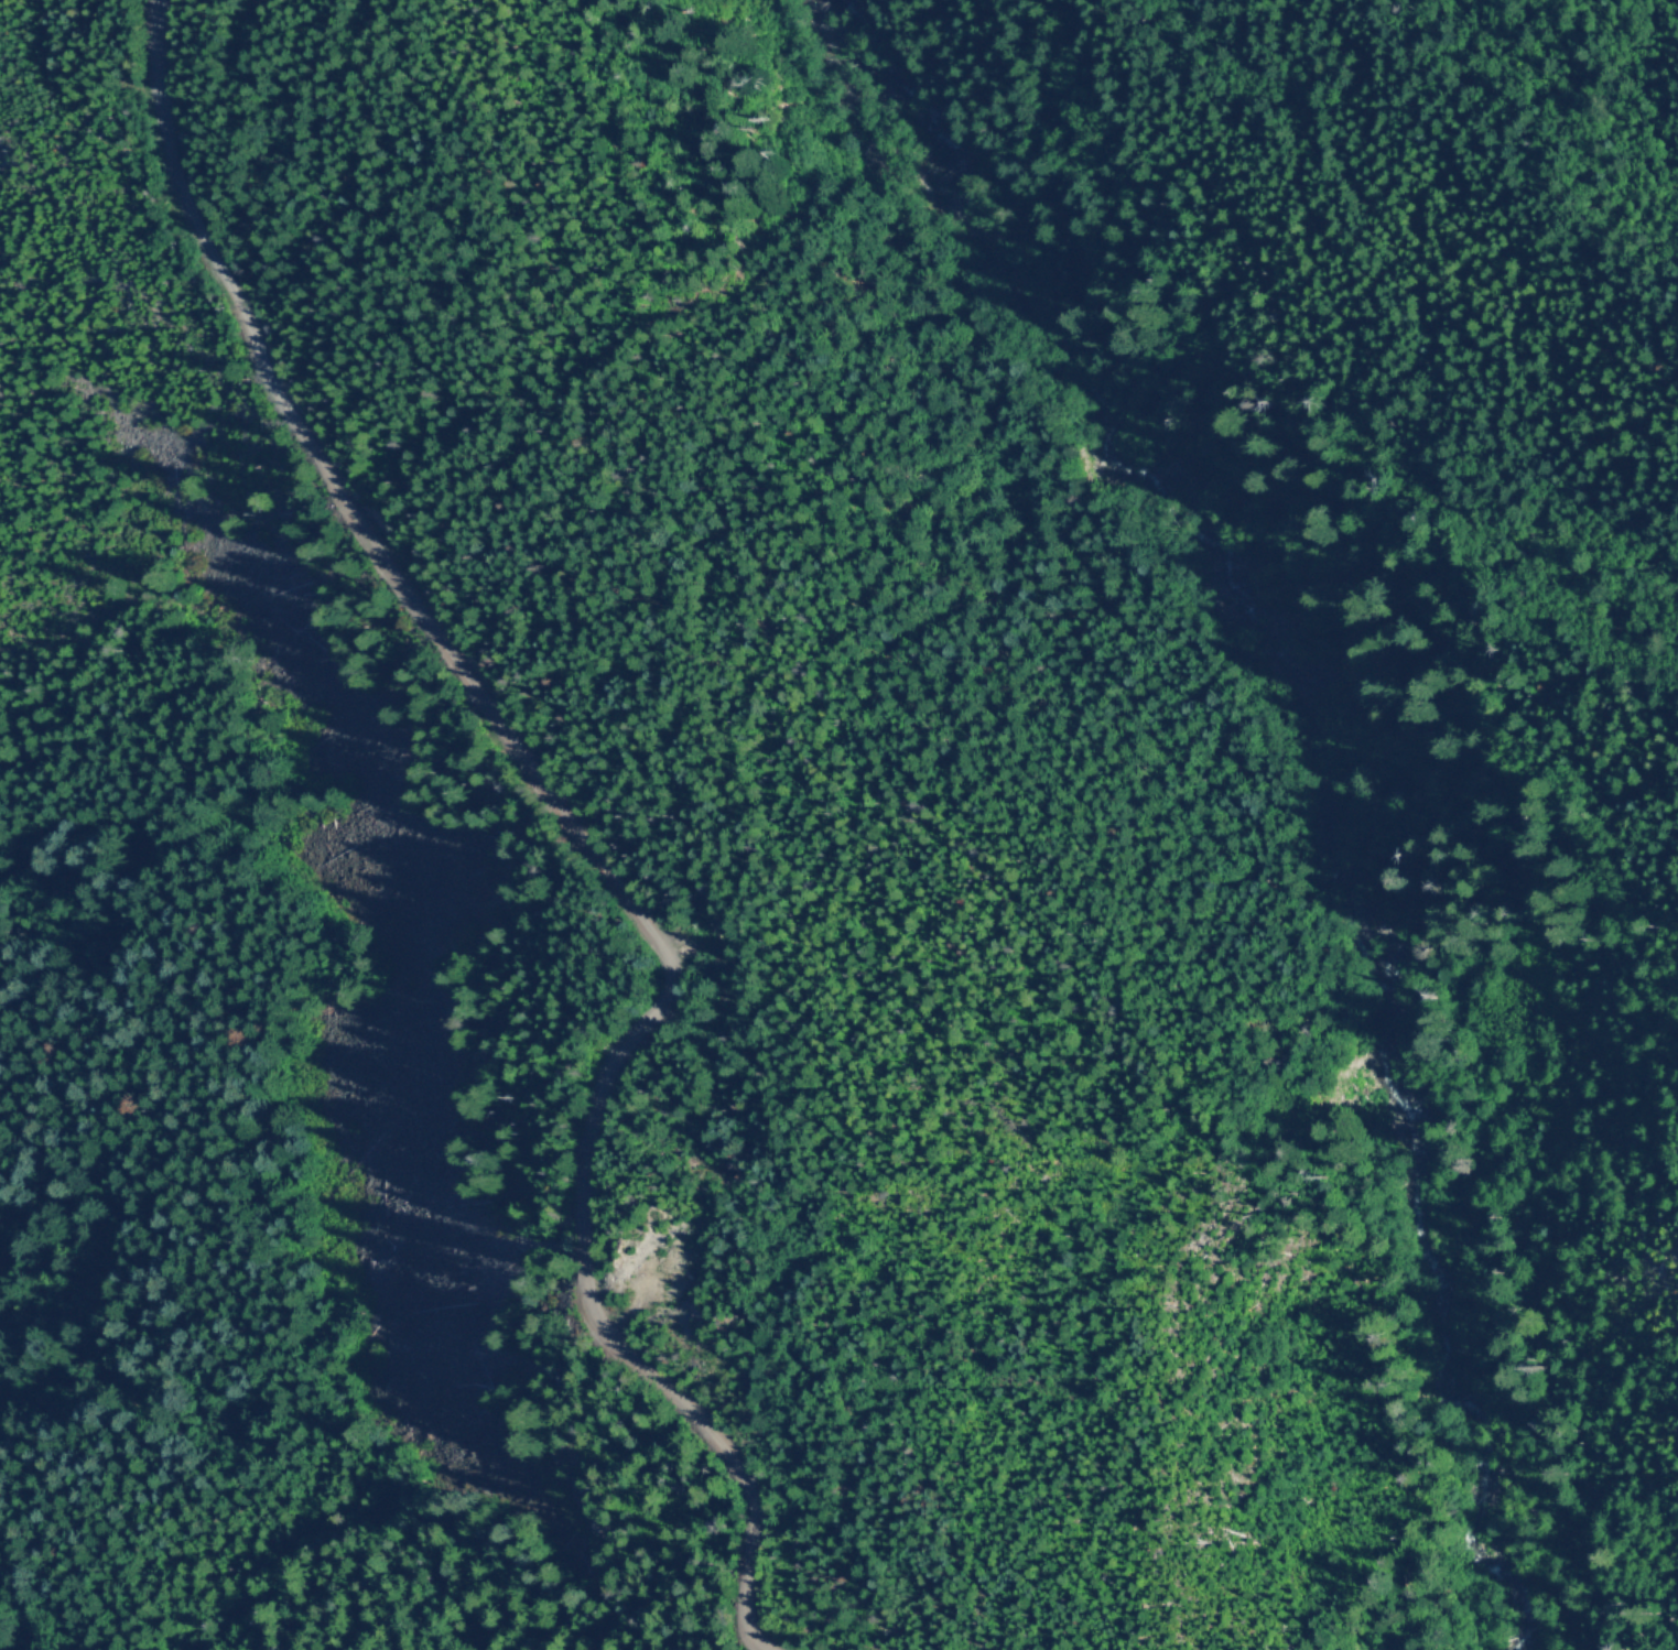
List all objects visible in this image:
road: (582, 824)

